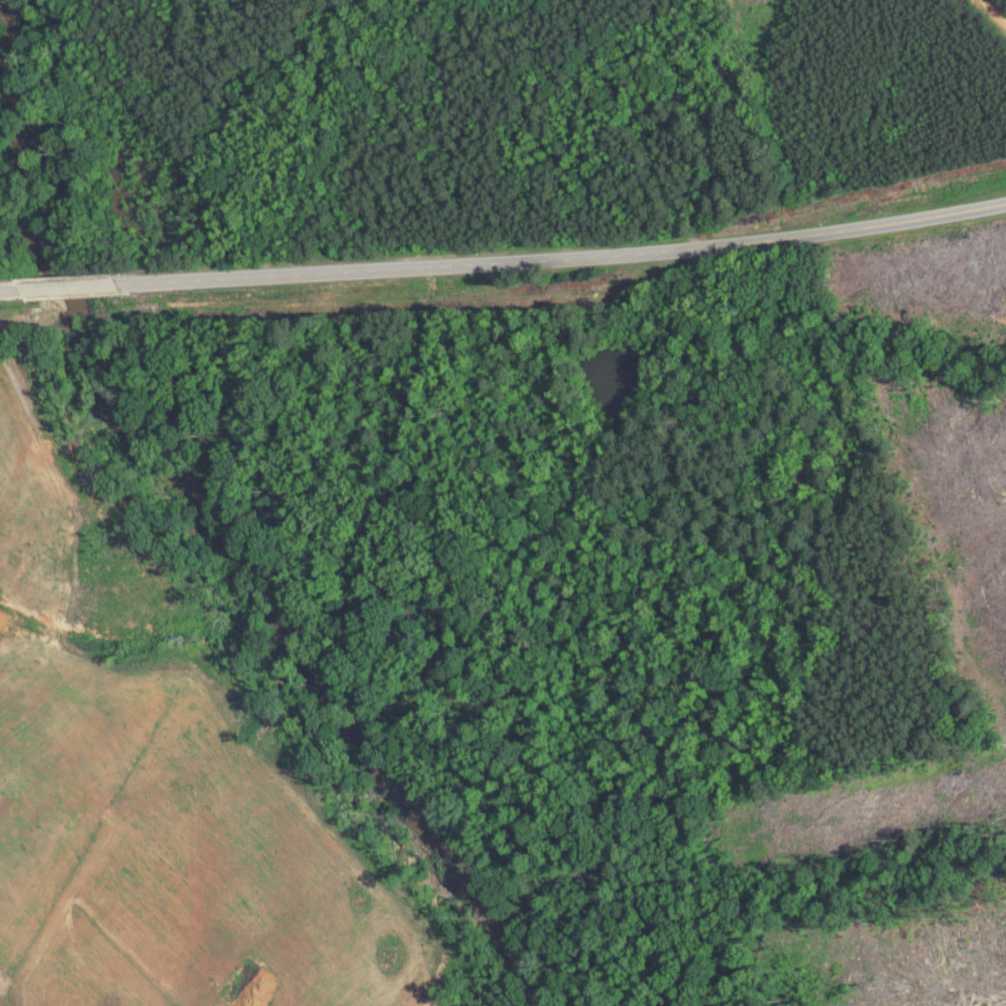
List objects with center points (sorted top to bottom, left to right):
road: (560, 256)
road: (64, 285)
road: (8, 288)

